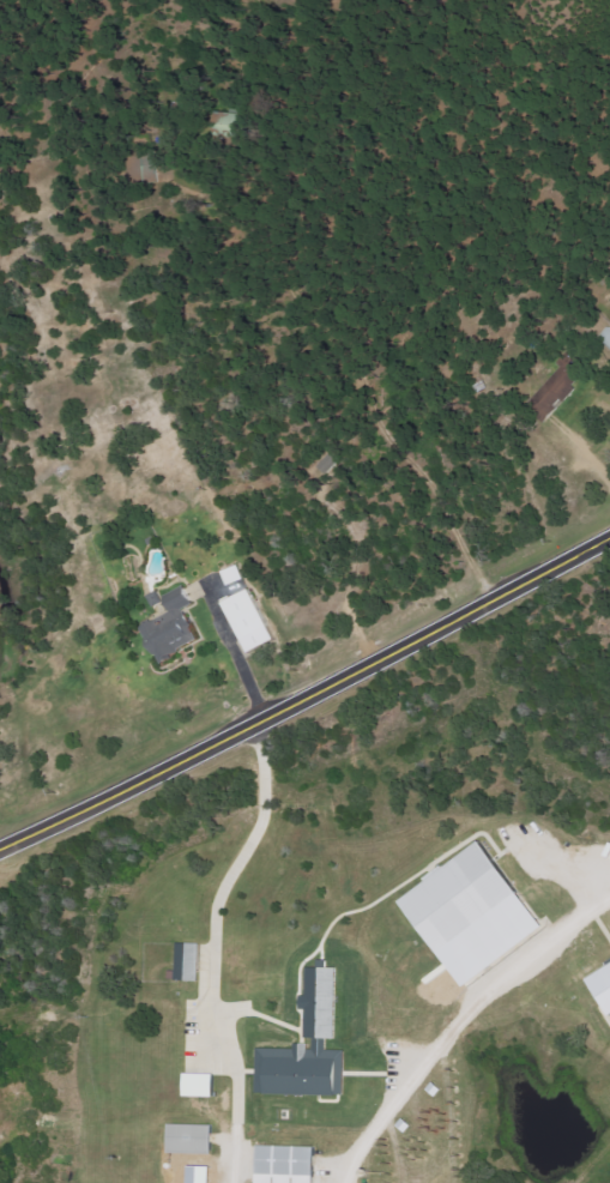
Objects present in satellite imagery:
road: (509, 279)
building: (562, 385)
building: (252, 622)
building: (176, 630)
road: (307, 690)
building: (478, 915)
road: (153, 950)
building: (191, 962)
building: (604, 984)
road: (452, 1019)
building: (310, 1049)
building: (201, 1085)
building: (193, 1139)
building: (289, 1164)

